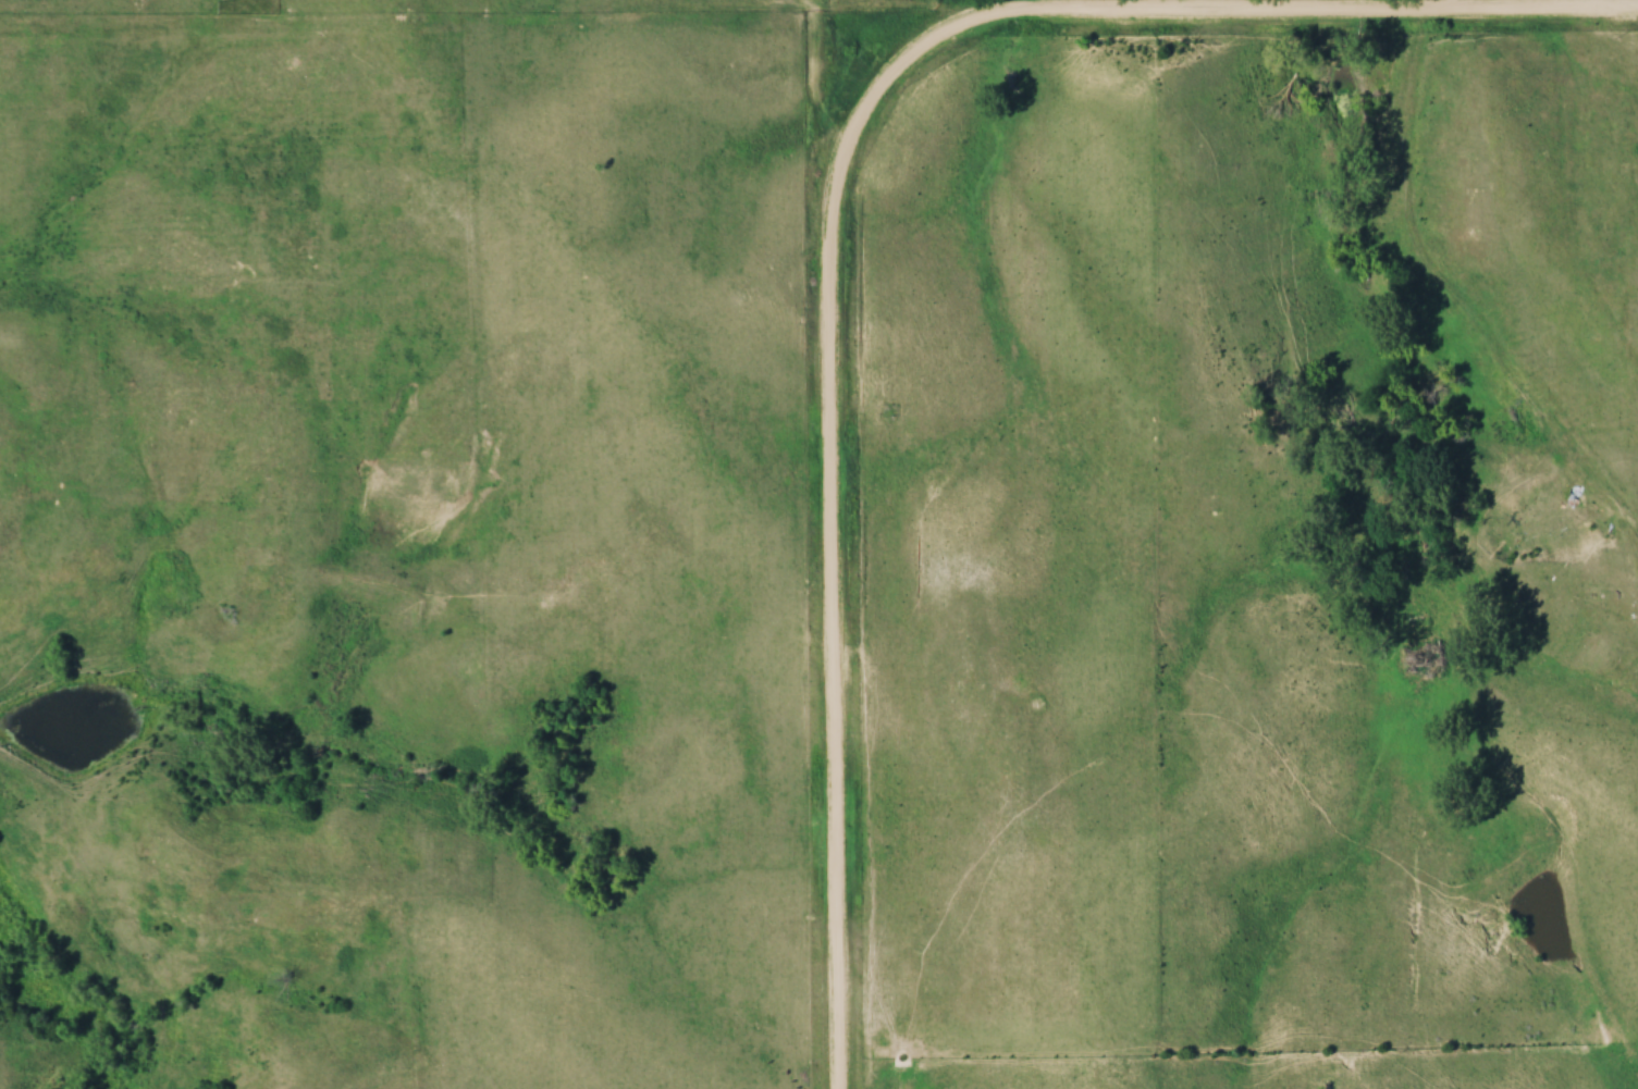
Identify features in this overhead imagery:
road: (1464, 7)
road: (1315, 12)
road: (832, 516)

